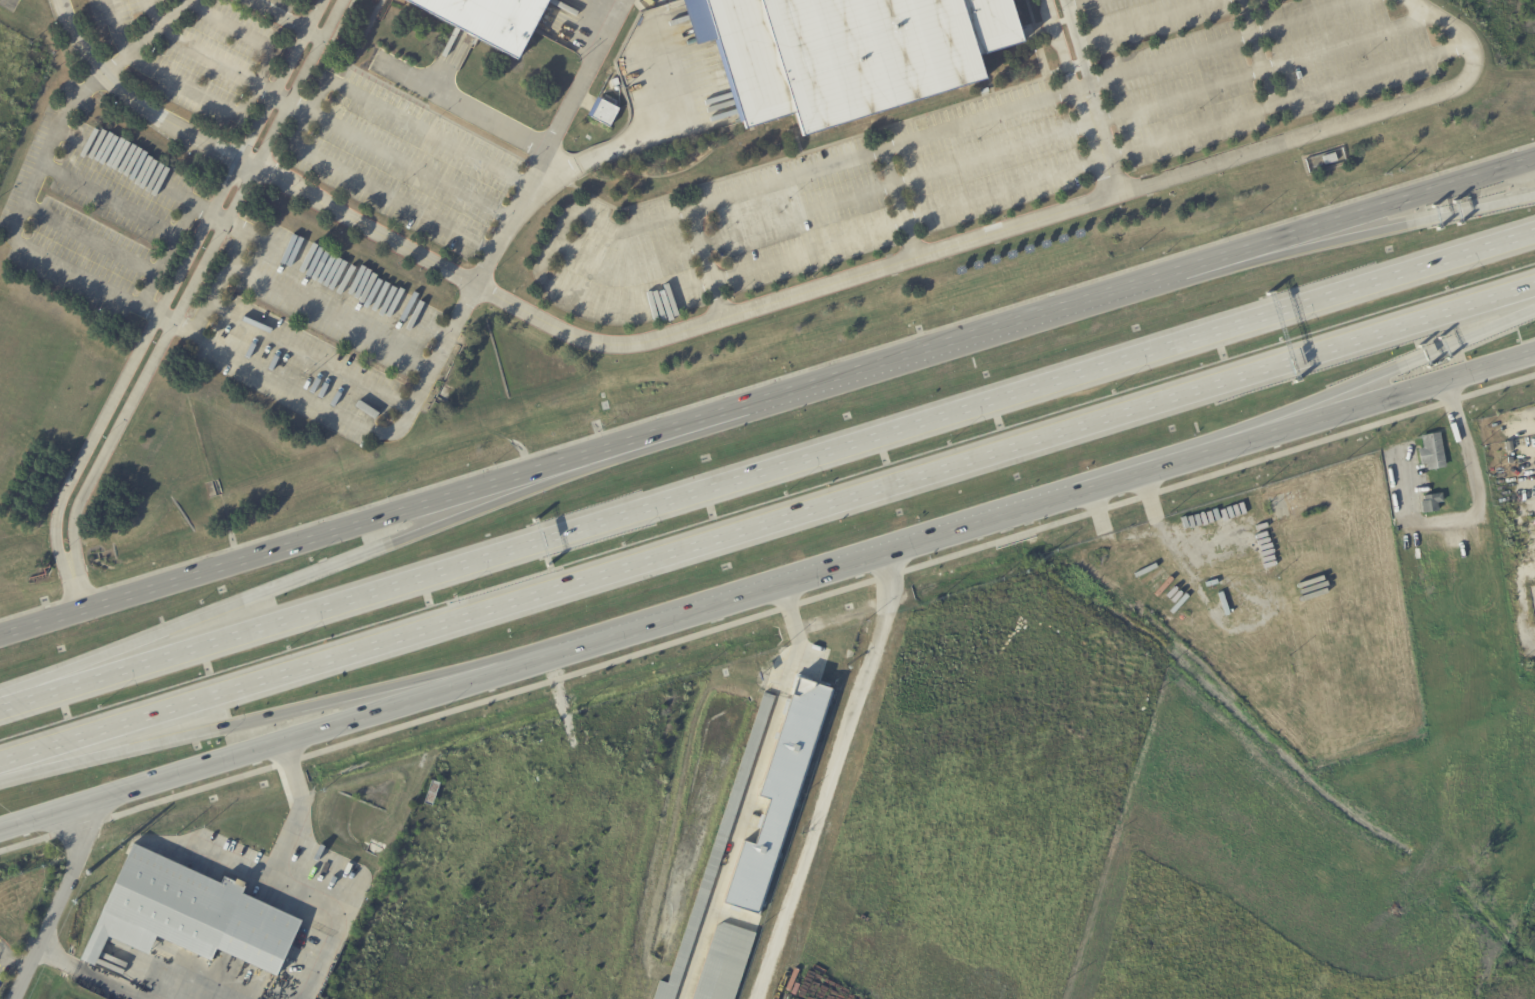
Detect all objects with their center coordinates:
road: (123, 1)
road: (1074, 3)
road: (296, 15)
building: (483, 19)
road: (1141, 21)
road: (191, 41)
road: (1219, 44)
road: (1255, 51)
building: (840, 53)
road: (1258, 67)
road: (1079, 88)
road: (283, 94)
road: (1284, 100)
road: (268, 105)
road: (308, 108)
road: (464, 108)
building: (604, 113)
road: (1345, 120)
road: (622, 144)
road: (401, 156)
building: (1331, 160)
road: (830, 162)
road: (898, 201)
road: (1360, 210)
road: (221, 214)
road: (1361, 234)
road: (807, 248)
road: (543, 267)
road: (340, 274)
road: (196, 281)
road: (716, 322)
road: (449, 336)
road: (905, 352)
road: (1368, 377)
road: (119, 387)
road: (1035, 388)
road: (1368, 401)
building: (1508, 438)
building: (1433, 452)
road: (1138, 473)
building: (1502, 482)
building: (1432, 503)
road: (1474, 511)
road: (767, 523)
building: (1520, 530)
road: (313, 538)
road: (314, 573)
road: (818, 574)
road: (77, 589)
building: (1533, 598)
road: (767, 610)
road: (267, 625)
road: (281, 711)
road: (281, 741)
road: (831, 777)
road: (748, 792)
building: (777, 792)
building: (717, 854)
road: (224, 857)
road: (281, 881)
road: (52, 900)
building: (165, 902)
building: (81, 932)
road: (10, 960)
road: (2, 961)
building: (725, 964)
road: (92, 974)

